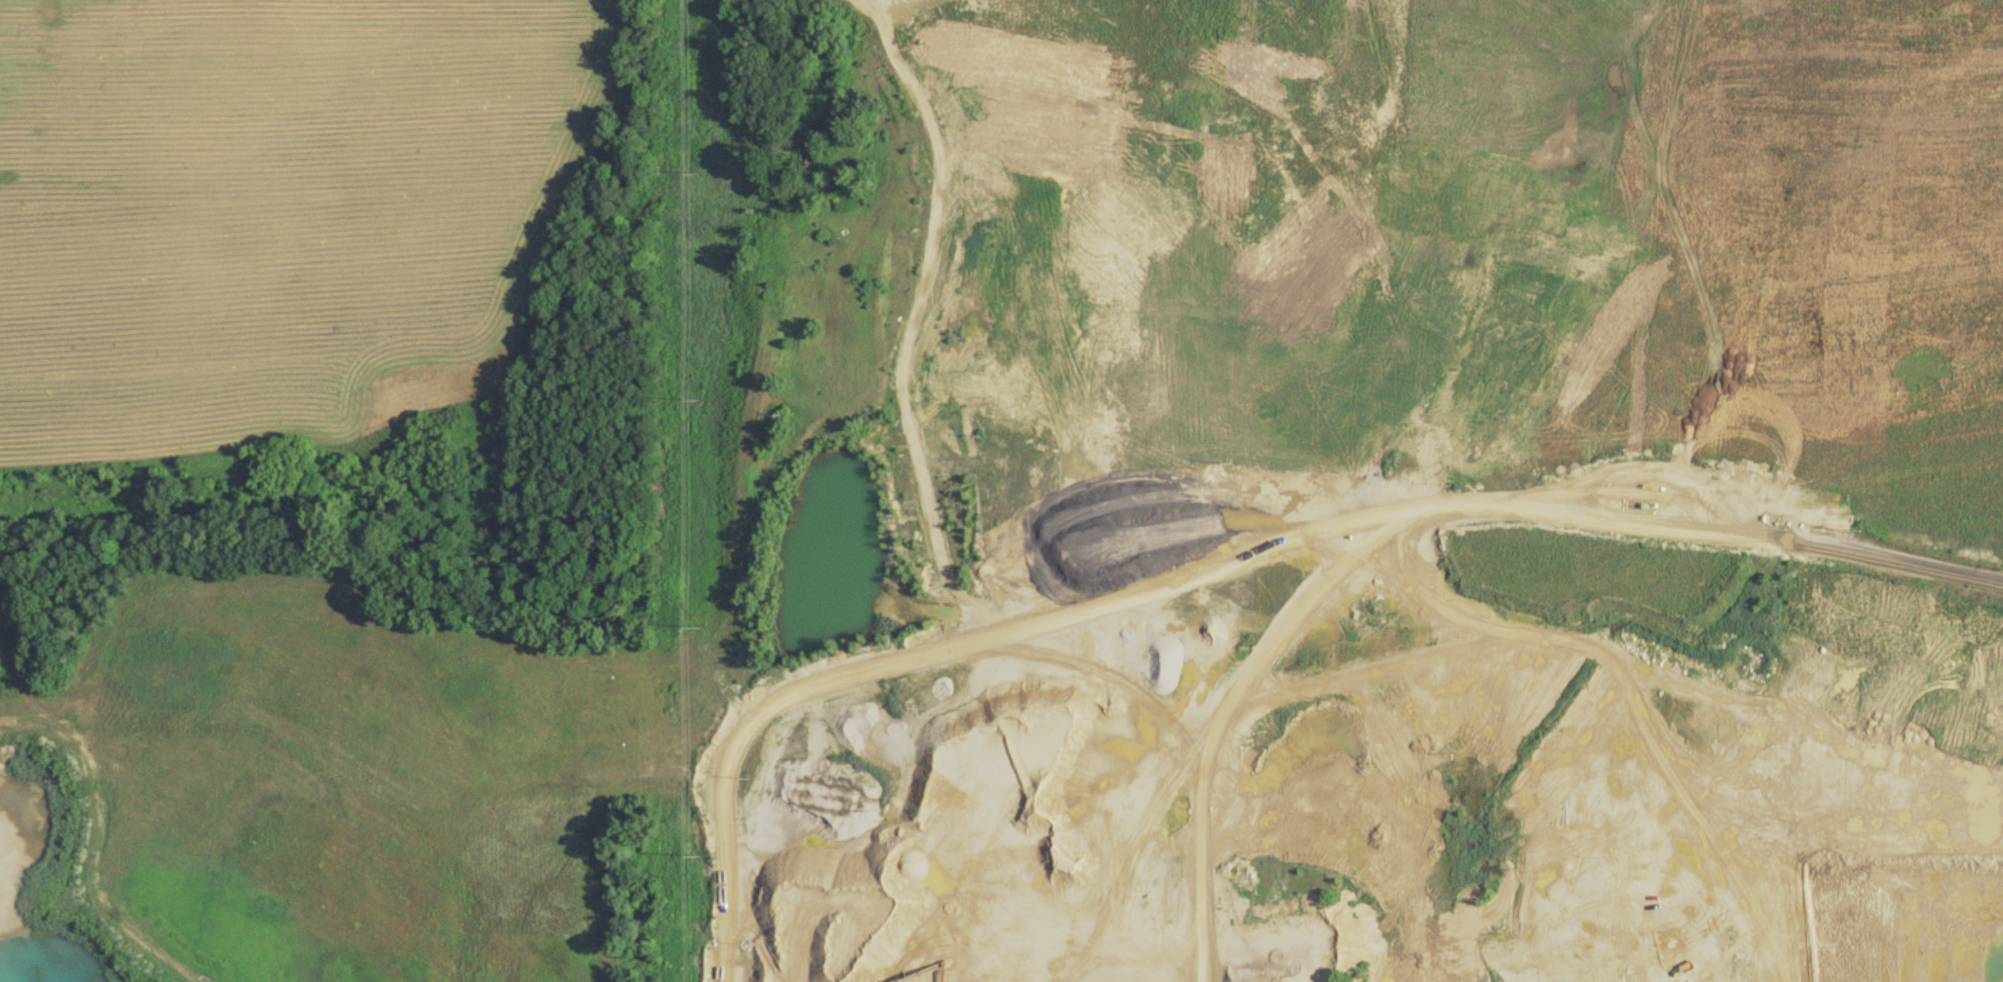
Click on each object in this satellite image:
road: (1439, 324)
road: (1716, 531)

